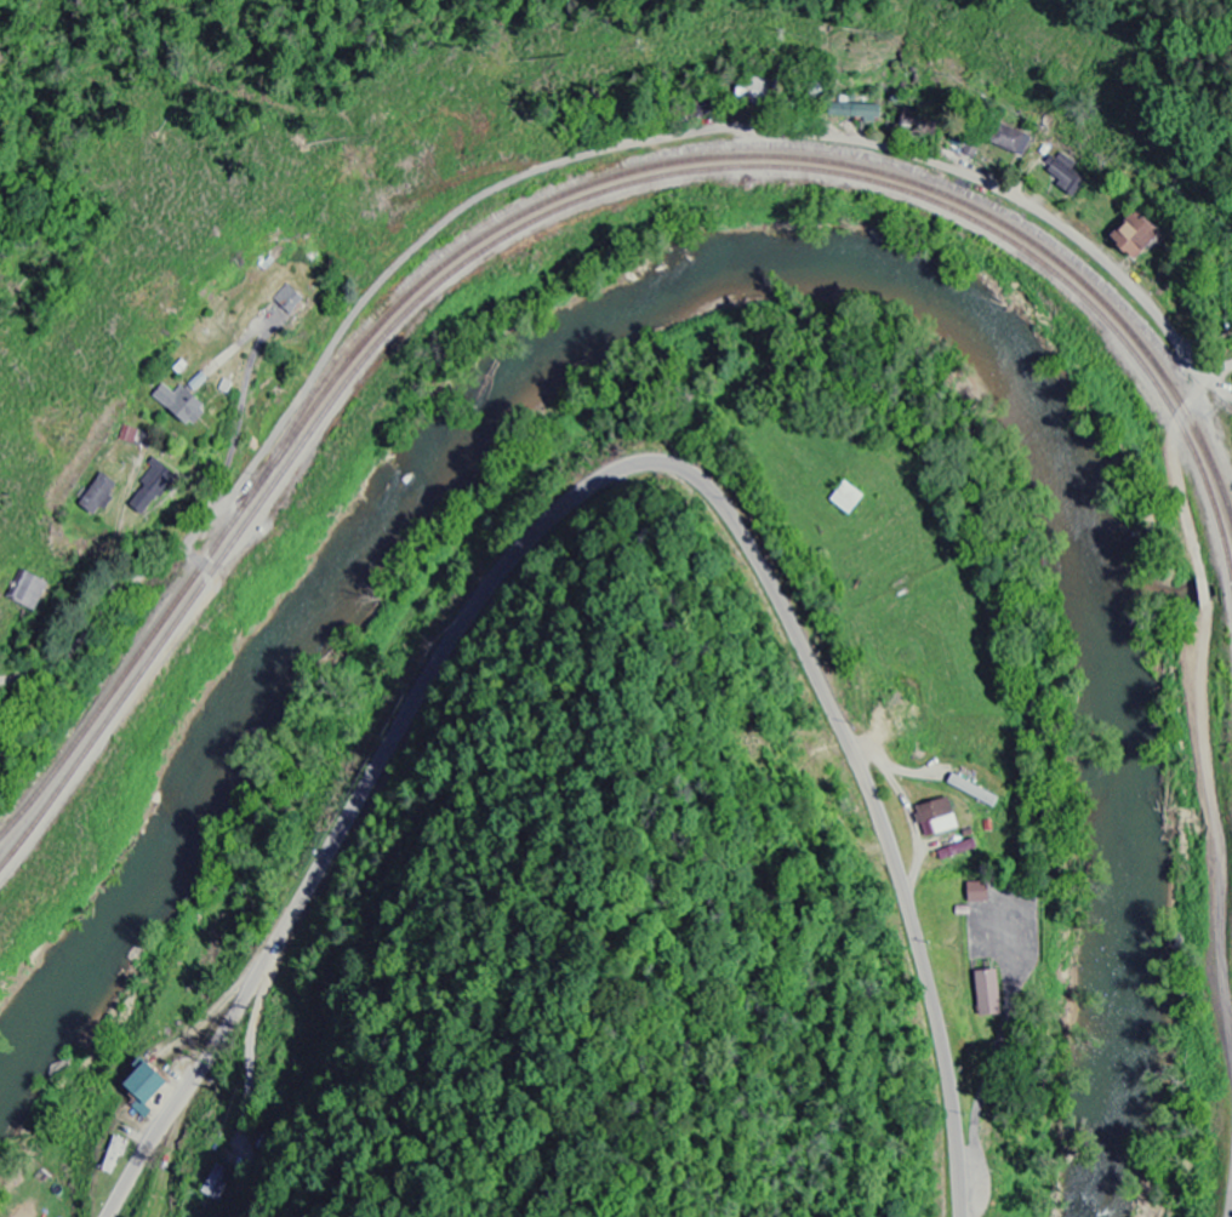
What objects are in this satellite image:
building: (852, 112)
building: (1009, 141)
road: (875, 144)
railway: (735, 145)
building: (1066, 177)
railway: (548, 200)
building: (1131, 238)
river: (759, 264)
building: (287, 301)
railway: (1086, 301)
road: (1208, 341)
road: (1214, 367)
building: (199, 383)
road: (1214, 384)
building: (178, 406)
railway: (326, 411)
road: (258, 456)
road: (605, 476)
building: (150, 487)
building: (96, 496)
building: (28, 593)
road: (1203, 705)
building: (970, 792)
building: (935, 819)
building: (956, 851)
building: (975, 893)
building: (985, 994)
building: (137, 1090)
building: (112, 1158)
road: (1230, 1210)

